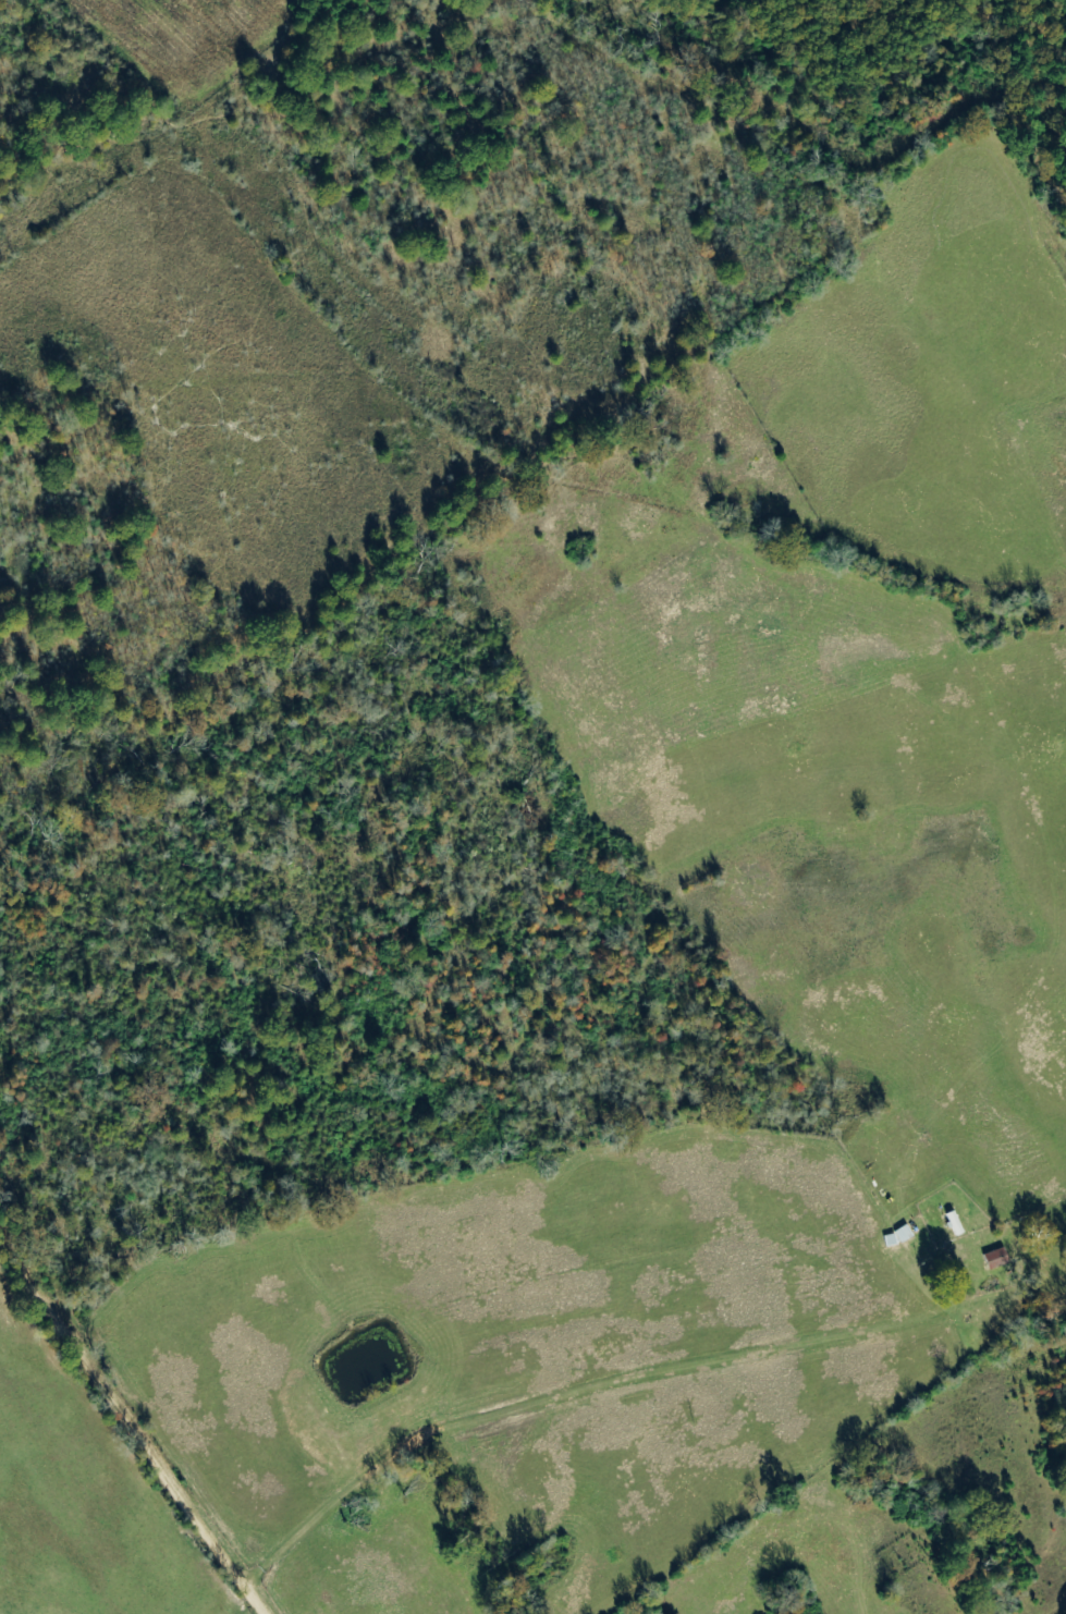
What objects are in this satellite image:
building: (995, 1260)
road: (119, 1448)

